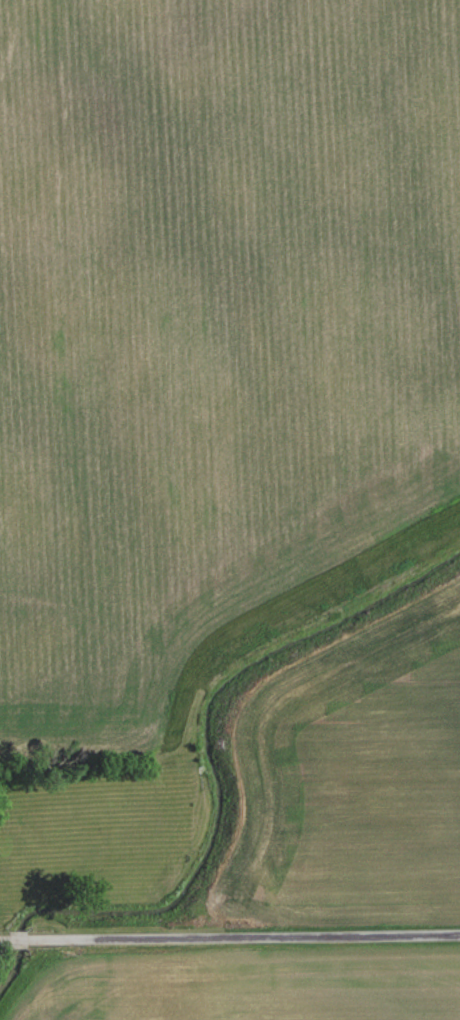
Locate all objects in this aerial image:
road: (230, 934)

